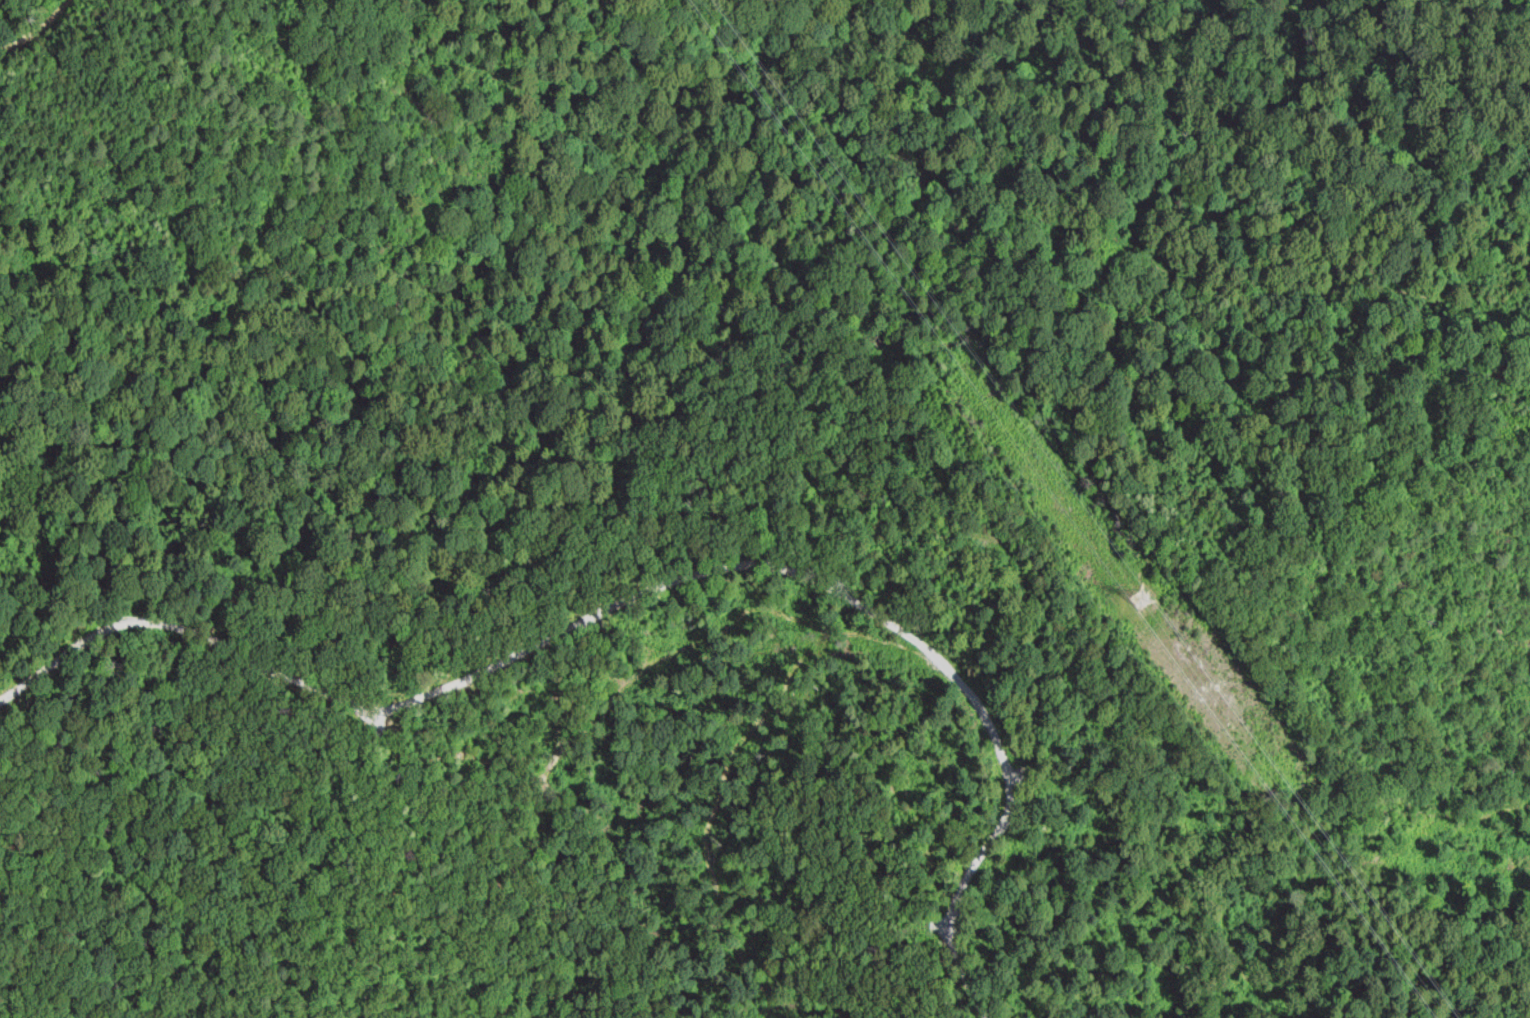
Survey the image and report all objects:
power tower: (1142, 597)
road: (617, 698)

